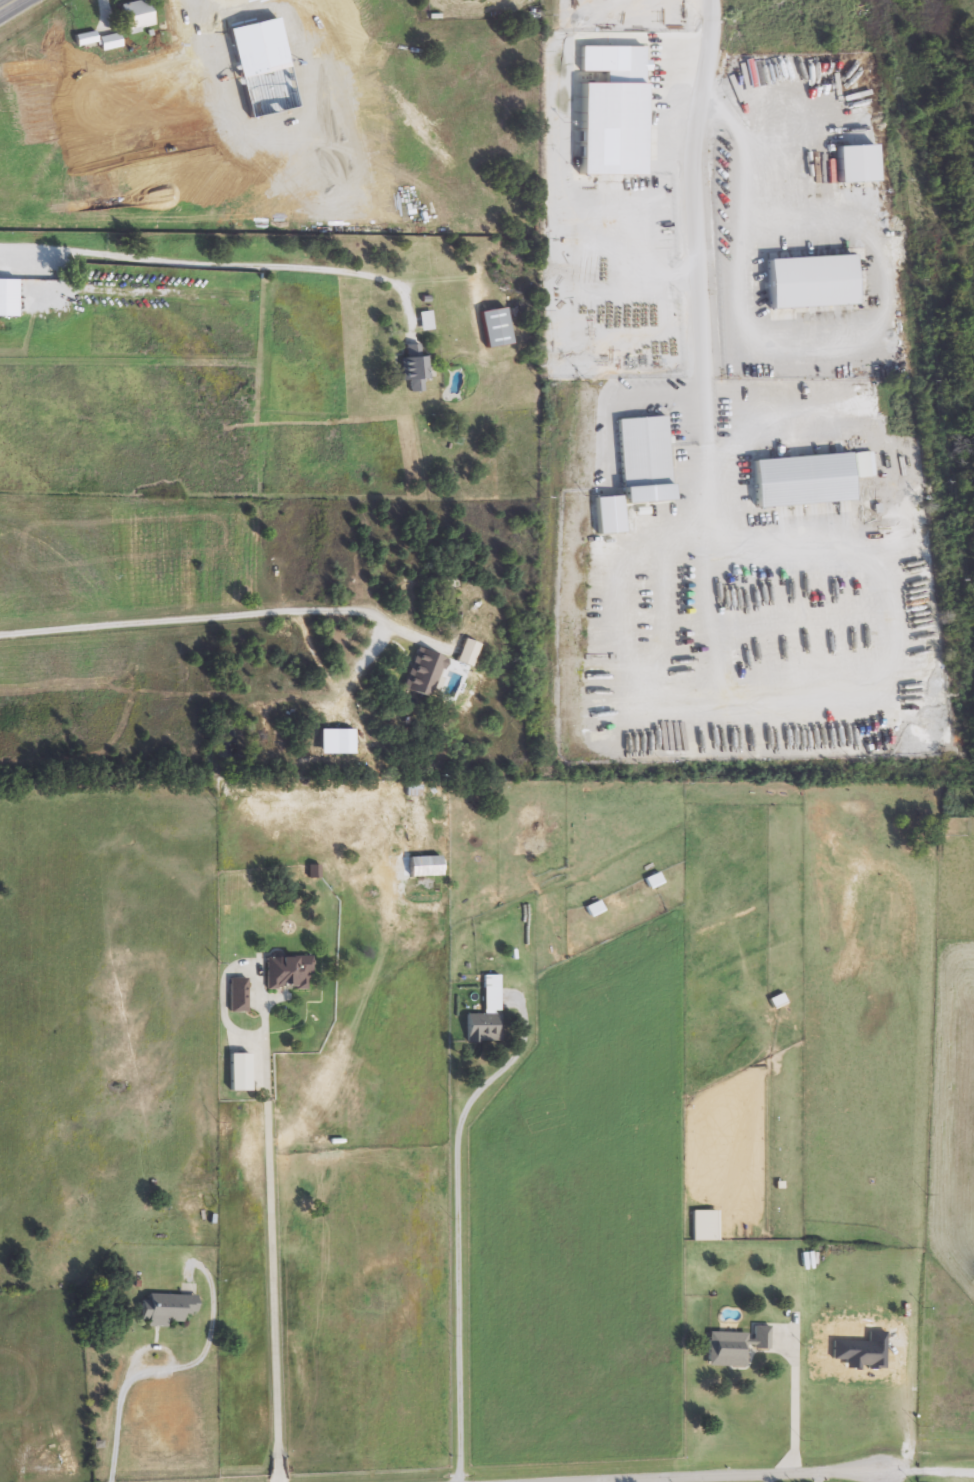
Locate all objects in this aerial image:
road: (14, 8)
road: (179, 9)
building: (137, 15)
building: (205, 18)
building: (86, 40)
building: (110, 42)
building: (263, 68)
road: (211, 266)
road: (695, 278)
building: (426, 321)
road: (799, 345)
building: (415, 370)
building: (784, 499)
building: (835, 508)
road: (613, 613)
road: (202, 621)
building: (424, 674)
road: (886, 684)
building: (414, 791)
building: (410, 812)
building: (425, 866)
building: (653, 881)
building: (288, 972)
building: (238, 996)
building: (777, 1002)
building: (486, 1014)
road: (925, 1069)
building: (240, 1072)
building: (703, 1226)
road: (456, 1232)
road: (274, 1243)
building: (167, 1309)
building: (735, 1347)
road: (798, 1402)
road: (115, 1414)
road: (927, 1472)
road: (757, 1475)
road: (821, 1477)
road: (769, 1478)

